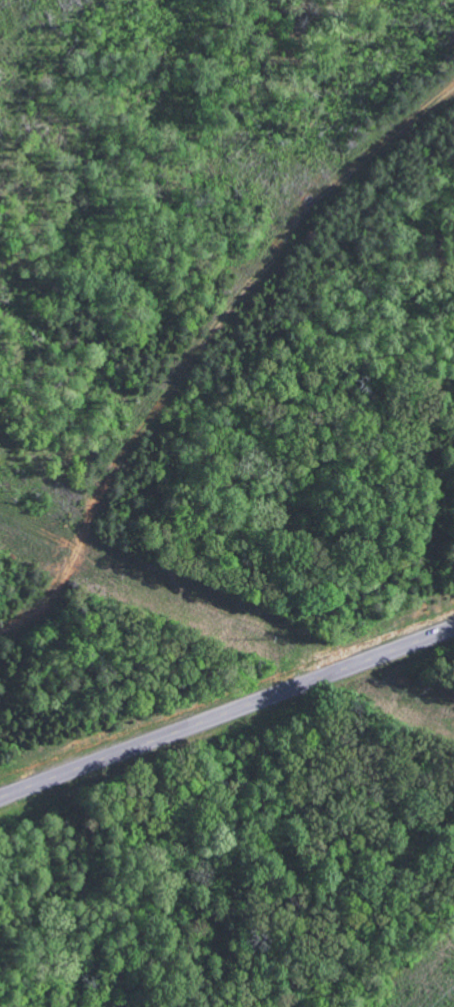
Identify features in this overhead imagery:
road: (227, 713)

